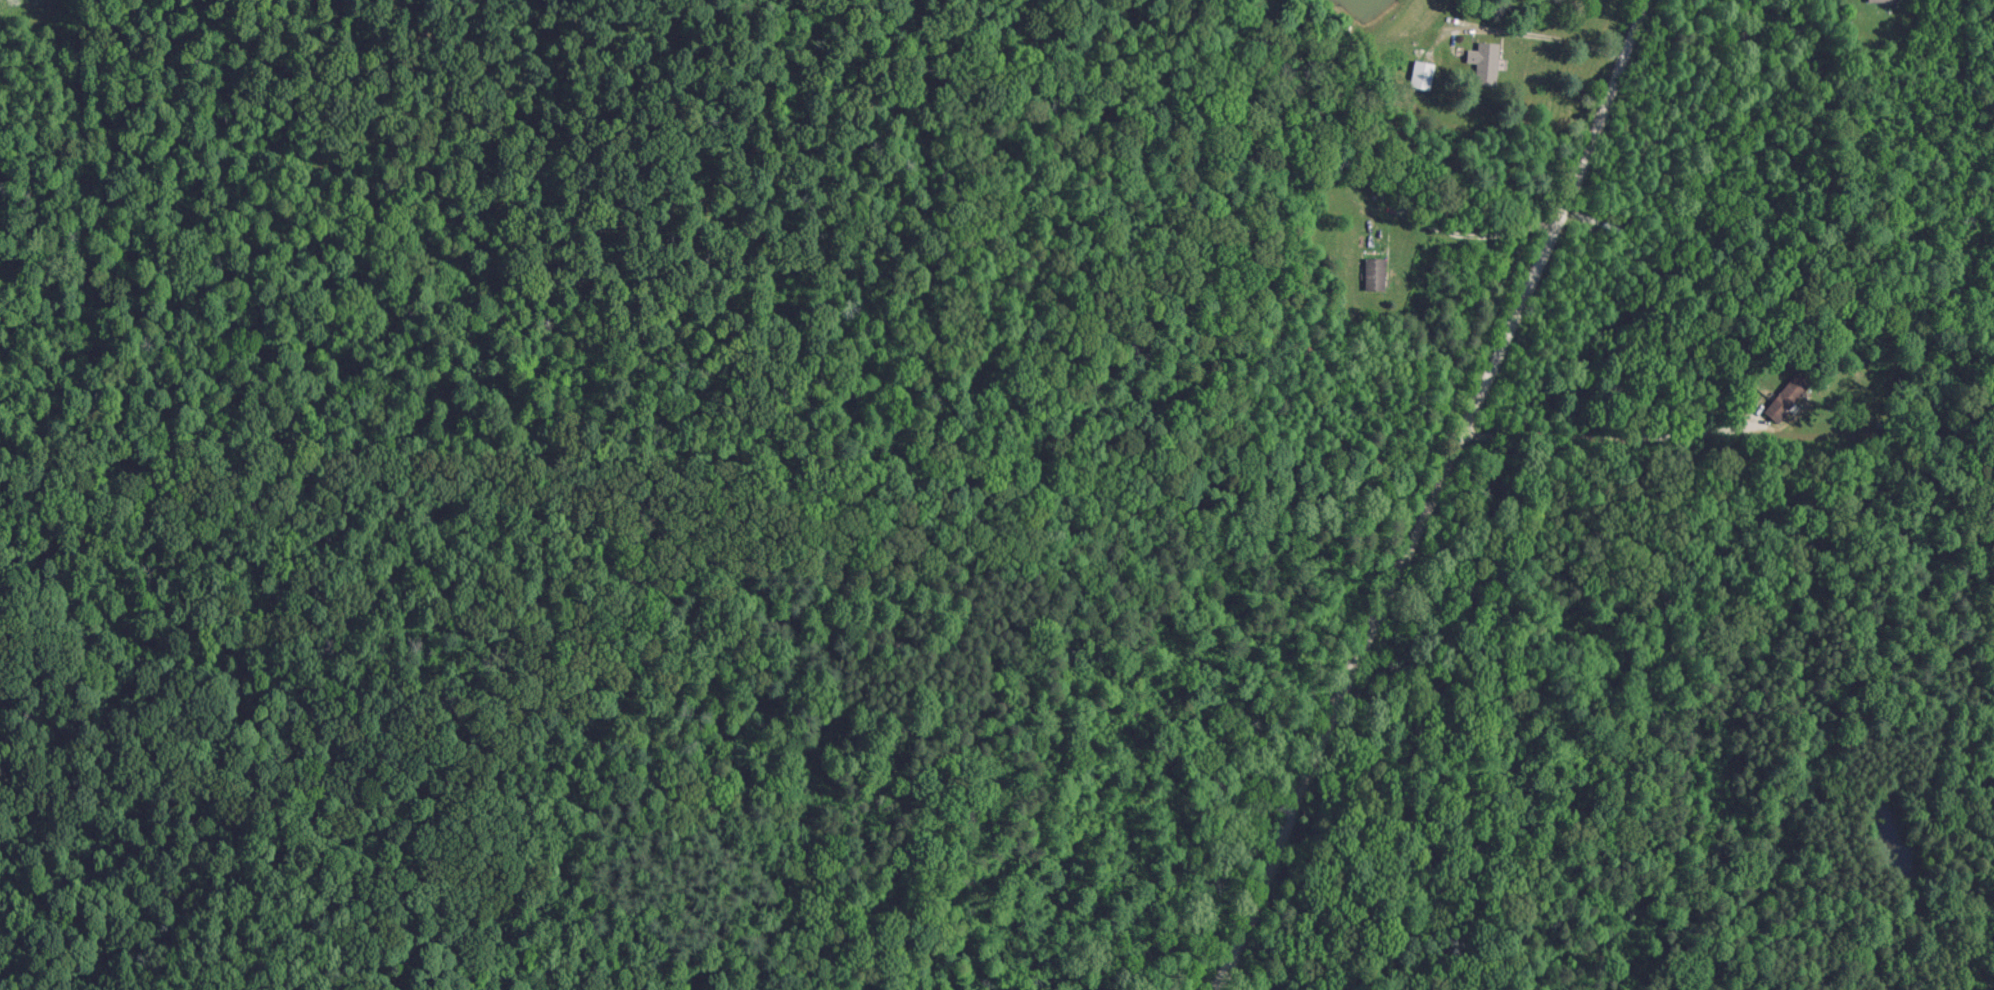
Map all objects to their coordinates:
building: (1880, 0)
road: (1556, 42)
building: (1484, 62)
building: (1418, 74)
road: (1473, 239)
building: (1371, 272)
building: (1784, 396)
road: (1429, 495)

